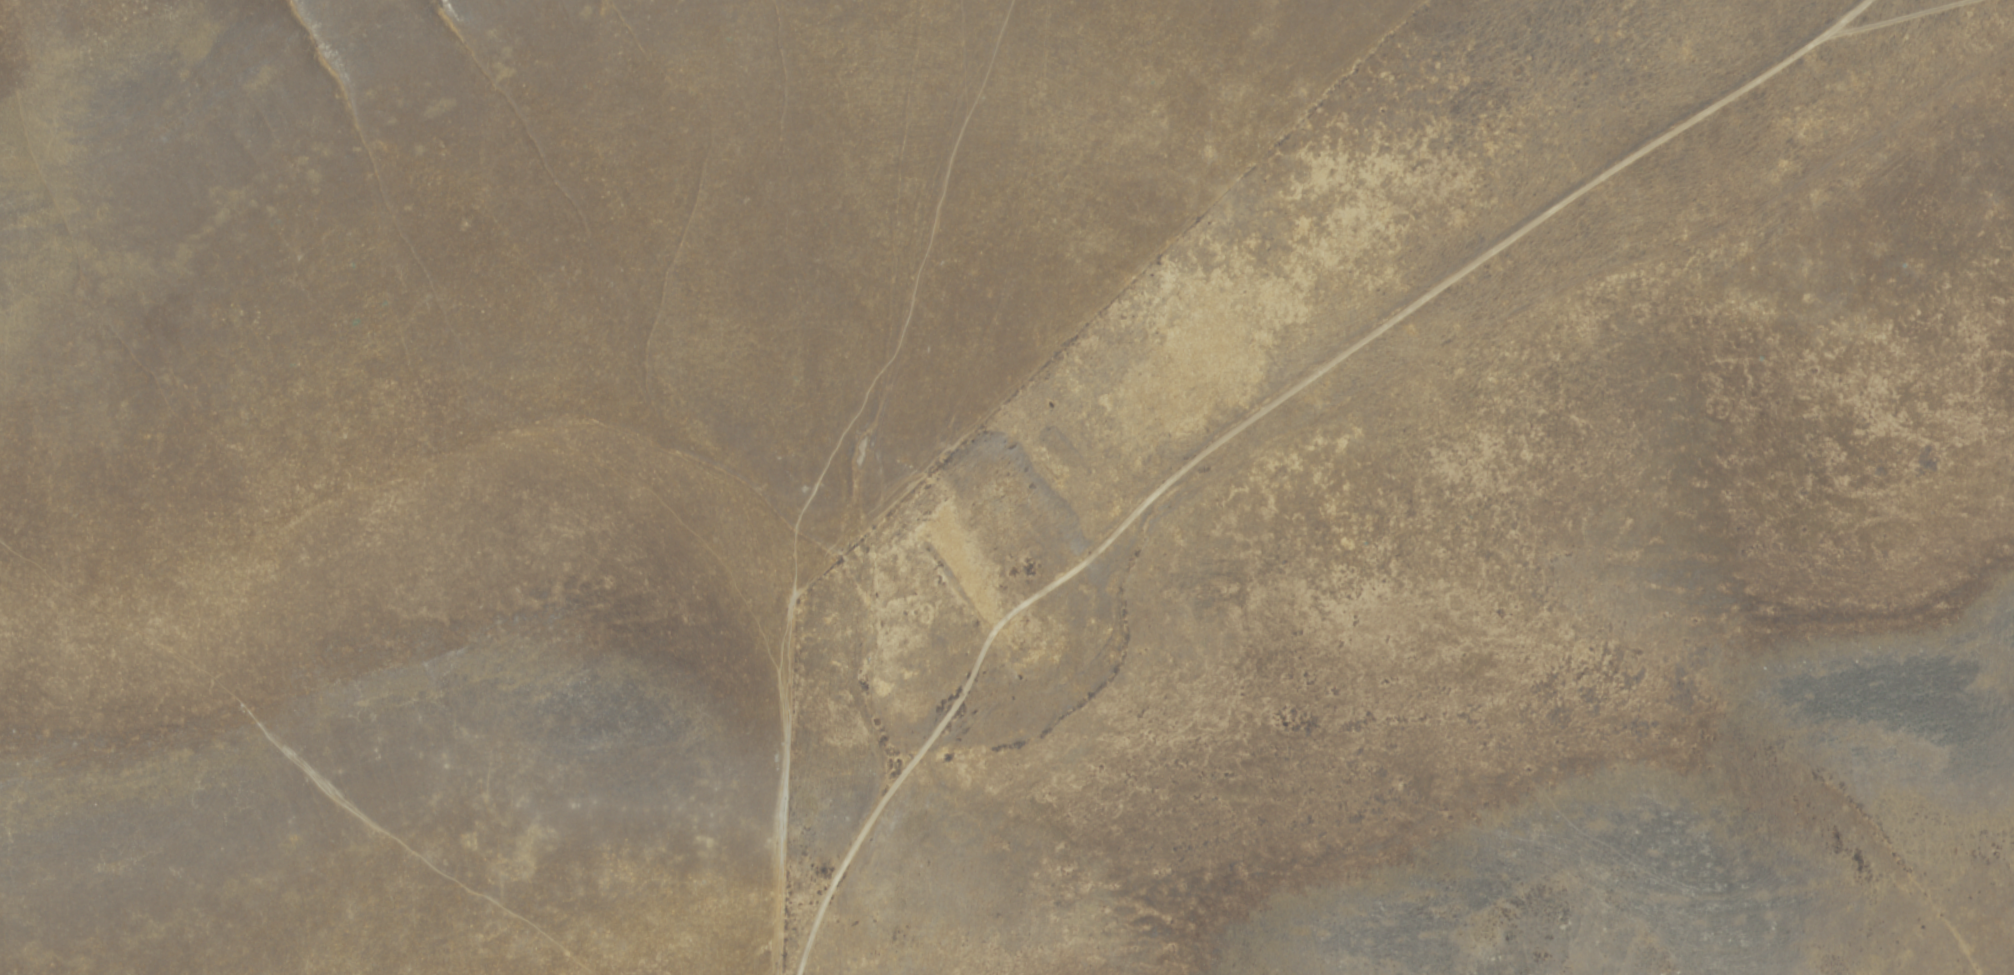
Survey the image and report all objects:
road: (1291, 409)

